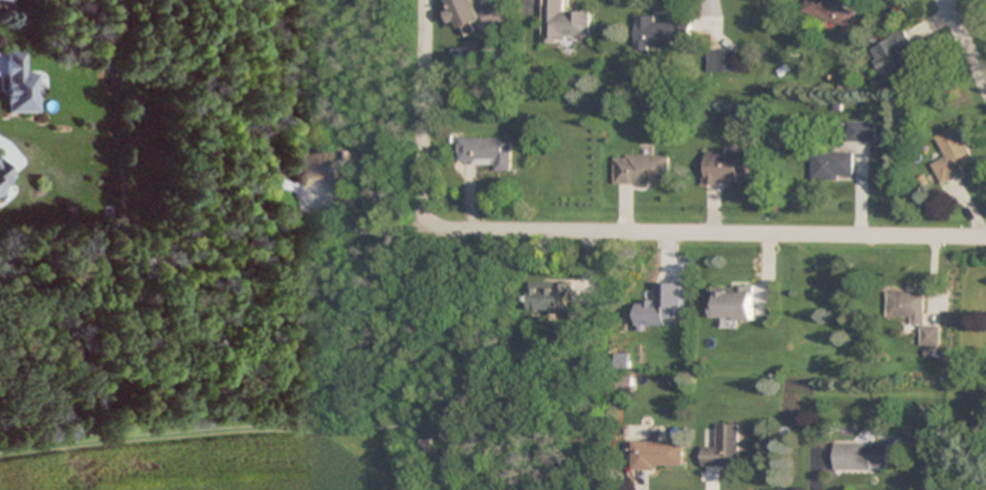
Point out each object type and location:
building: (3, 0)
building: (832, 10)
building: (476, 13)
building: (563, 22)
building: (664, 31)
road: (963, 43)
building: (895, 59)
building: (724, 61)
building: (20, 85)
road: (423, 112)
building: (861, 132)
building: (488, 152)
building: (951, 157)
building: (832, 165)
building: (323, 168)
building: (726, 168)
building: (642, 169)
building: (271, 174)
building: (5, 176)
road: (706, 233)
building: (550, 297)
building: (733, 303)
building: (663, 306)
building: (910, 312)
building: (724, 448)
building: (657, 455)
building: (862, 457)
building: (450, 458)

